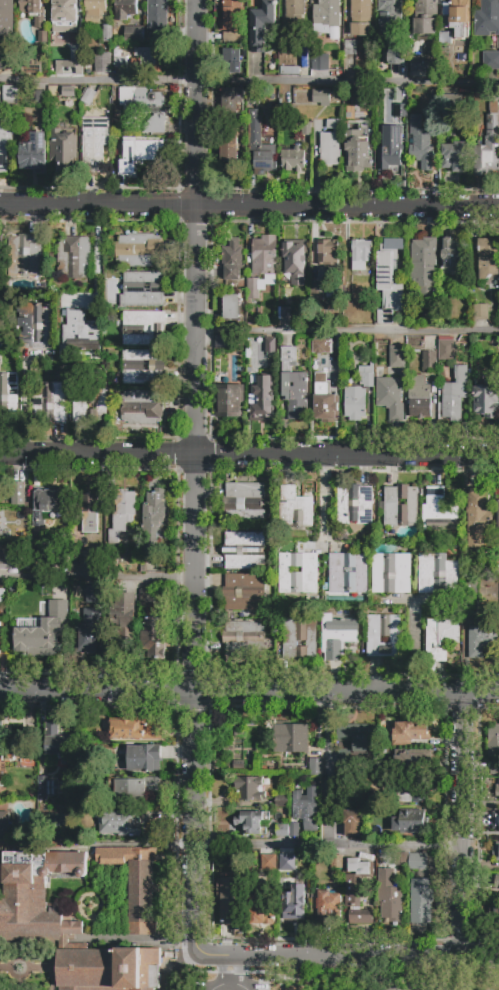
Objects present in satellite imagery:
building: (31, 7)
building: (125, 9)
building: (295, 9)
building: (95, 11)
building: (232, 11)
building: (65, 12)
building: (326, 14)
building: (388, 15)
building: (425, 16)
building: (158, 17)
building: (361, 17)
building: (487, 17)
building: (459, 18)
building: (6, 19)
building: (261, 23)
building: (107, 33)
building: (134, 34)
building: (445, 37)
building: (43, 38)
building: (289, 44)
building: (351, 48)
building: (229, 54)
building: (397, 58)
building: (148, 60)
building: (491, 61)
building: (7, 62)
building: (102, 62)
building: (120, 62)
building: (320, 62)
building: (420, 63)
building: (33, 65)
building: (69, 66)
building: (289, 71)
road: (249, 84)
building: (68, 92)
building: (9, 95)
building: (88, 97)
building: (39, 98)
building: (321, 99)
building: (232, 101)
building: (452, 104)
building: (143, 108)
building: (401, 111)
building: (432, 117)
building: (307, 129)
building: (5, 143)
building: (94, 144)
building: (331, 144)
building: (421, 144)
building: (488, 145)
building: (260, 147)
building: (63, 151)
building: (229, 151)
building: (356, 151)
building: (389, 152)
building: (34, 153)
building: (140, 154)
building: (455, 156)
building: (293, 159)
road: (249, 207)
building: (139, 250)
building: (361, 254)
building: (452, 254)
building: (27, 255)
building: (327, 255)
building: (264, 256)
building: (293, 257)
building: (488, 257)
building: (73, 258)
building: (231, 259)
building: (424, 265)
building: (390, 275)
building: (448, 283)
building: (304, 288)
building: (143, 289)
building: (253, 289)
building: (318, 293)
building: (349, 293)
building: (231, 307)
building: (481, 312)
building: (285, 314)
building: (35, 326)
building: (144, 329)
building: (80, 333)
road: (347, 333)
road: (195, 346)
building: (236, 346)
building: (270, 346)
building: (318, 346)
building: (446, 350)
building: (397, 356)
building: (429, 362)
building: (142, 366)
building: (366, 375)
building: (294, 385)
building: (454, 395)
building: (9, 396)
building: (390, 396)
building: (419, 397)
building: (486, 398)
building: (262, 400)
building: (230, 401)
building: (324, 401)
building: (49, 402)
building: (355, 403)
building: (90, 404)
road: (24, 405)
building: (142, 407)
road: (249, 458)
building: (16, 493)
building: (51, 501)
building: (244, 502)
road: (324, 502)
building: (355, 504)
building: (401, 506)
building: (295, 508)
building: (92, 510)
building: (439, 511)
building: (122, 514)
building: (498, 515)
building: (478, 519)
building: (153, 520)
building: (4, 523)
building: (40, 527)
building: (20, 540)
building: (244, 550)
building: (88, 557)
building: (9, 561)
building: (113, 561)
building: (348, 574)
building: (391, 574)
building: (437, 574)
road: (97, 577)
building: (299, 582)
building: (245, 592)
building: (94, 594)
building: (2, 596)
building: (147, 598)
building: (471, 607)
building: (125, 620)
building: (42, 629)
building: (88, 633)
building: (383, 635)
building: (338, 636)
building: (299, 638)
building: (440, 638)
building: (155, 639)
building: (243, 639)
building: (481, 639)
road: (97, 692)
road: (347, 692)
building: (99, 728)
building: (136, 728)
building: (408, 733)
building: (291, 737)
building: (493, 740)
building: (355, 741)
building: (57, 742)
building: (109, 751)
building: (8, 754)
building: (144, 758)
building: (414, 762)
building: (316, 766)
road: (325, 767)
building: (494, 768)
building: (44, 788)
building: (250, 788)
building: (134, 789)
building: (369, 790)
building: (411, 790)
building: (497, 790)
building: (345, 797)
building: (281, 801)
road: (462, 802)
building: (306, 809)
building: (495, 820)
building: (353, 822)
building: (411, 822)
building: (119, 823)
building: (252, 823)
building: (4, 824)
road: (194, 824)
building: (282, 831)
building: (295, 831)
road: (328, 842)
road: (146, 844)
building: (496, 850)
building: (286, 860)
building: (417, 861)
building: (268, 862)
building: (336, 862)
building: (135, 879)
building: (497, 882)
building: (356, 890)
building: (35, 895)
building: (390, 895)
building: (230, 899)
building: (421, 900)
building: (293, 901)
building: (327, 906)
building: (261, 908)
building: (496, 915)
road: (462, 934)
road: (131, 937)
road: (19, 948)
road: (304, 957)
road: (457, 959)
road: (10, 960)
road: (54, 965)
road: (4, 967)
road: (43, 968)
building: (108, 969)
road: (225, 973)
road: (439, 974)
road: (18, 983)
park: (400, 983)
parking lot: (221, 985)
building: (297, 989)
road: (420, 989)

